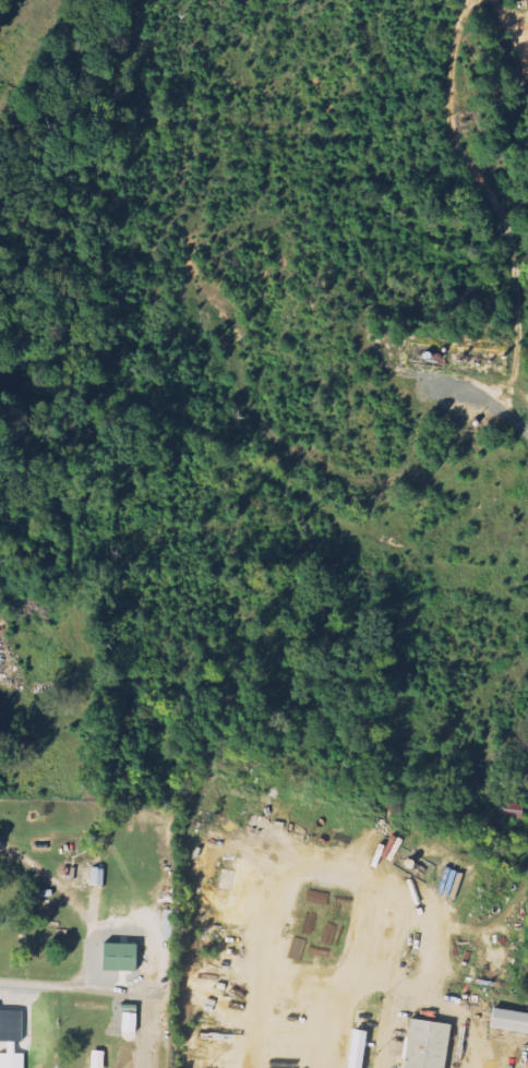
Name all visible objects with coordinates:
building: (507, 809)
road: (52, 879)
building: (221, 879)
road: (169, 914)
building: (297, 949)
road: (93, 957)
building: (117, 957)
road: (111, 988)
building: (506, 1019)
building: (125, 1021)
building: (353, 1041)
building: (422, 1044)
building: (94, 1059)
building: (124, 1059)
building: (11, 1060)

